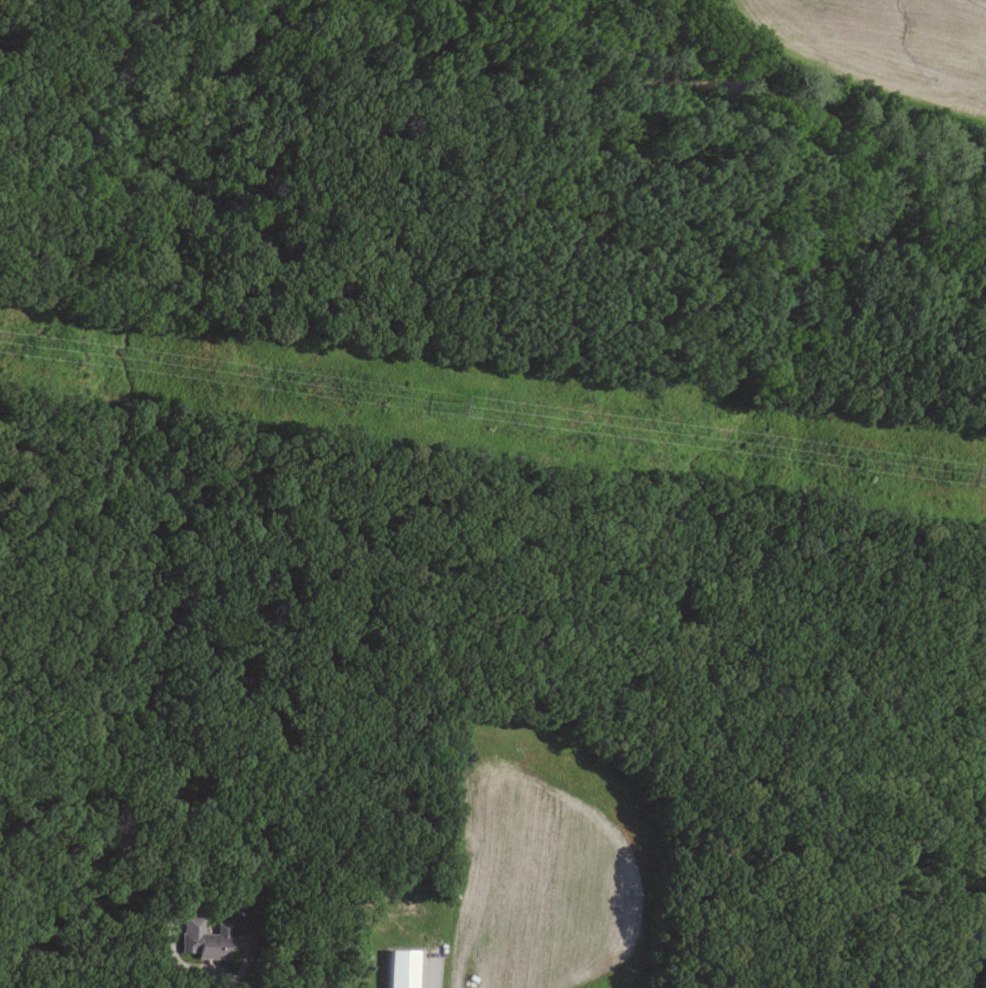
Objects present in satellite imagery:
power tower: (457, 402)
power tower: (970, 472)
building: (198, 940)
road: (213, 976)
road: (428, 976)
road: (191, 984)

